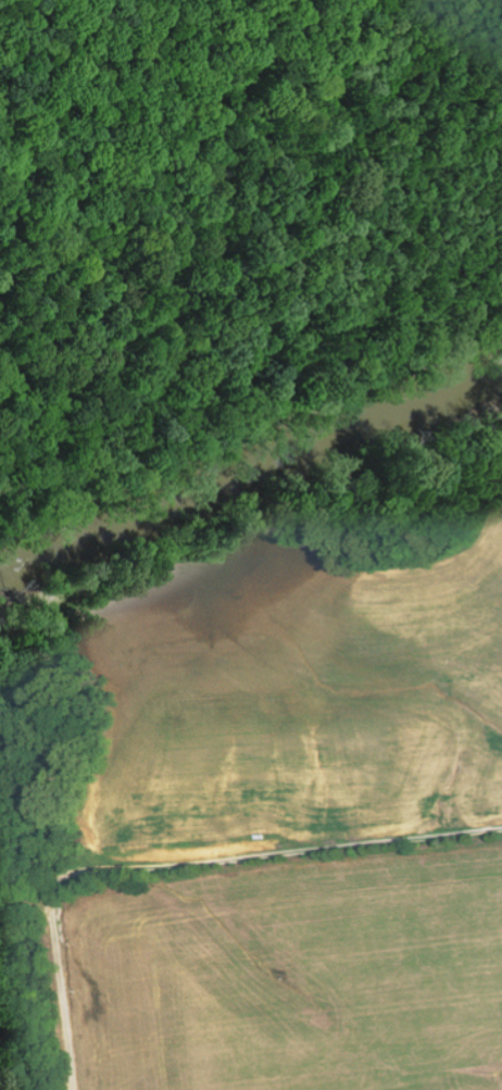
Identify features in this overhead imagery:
river: (250, 464)

